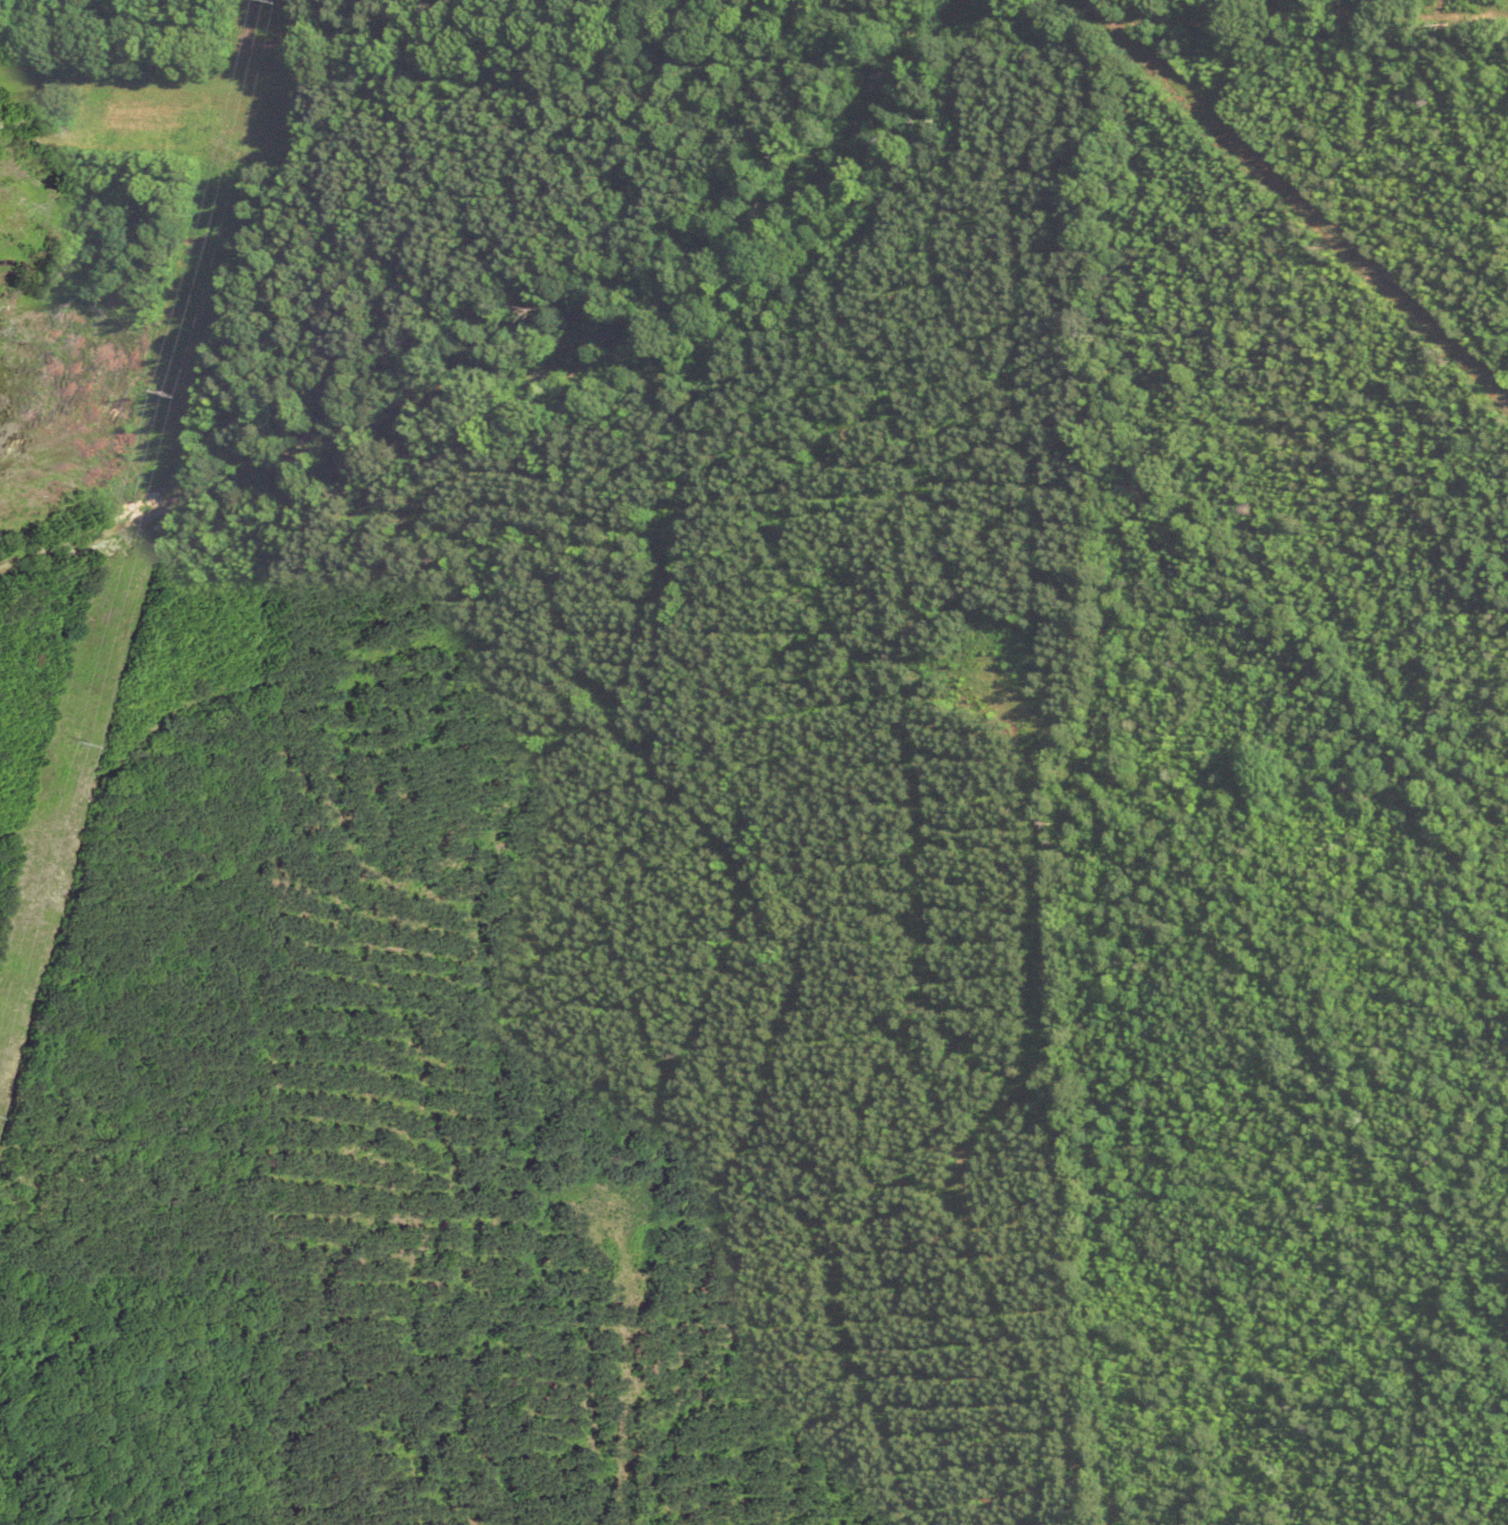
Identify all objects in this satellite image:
building: (30, 120)
power tower: (169, 389)
power tower: (75, 741)

